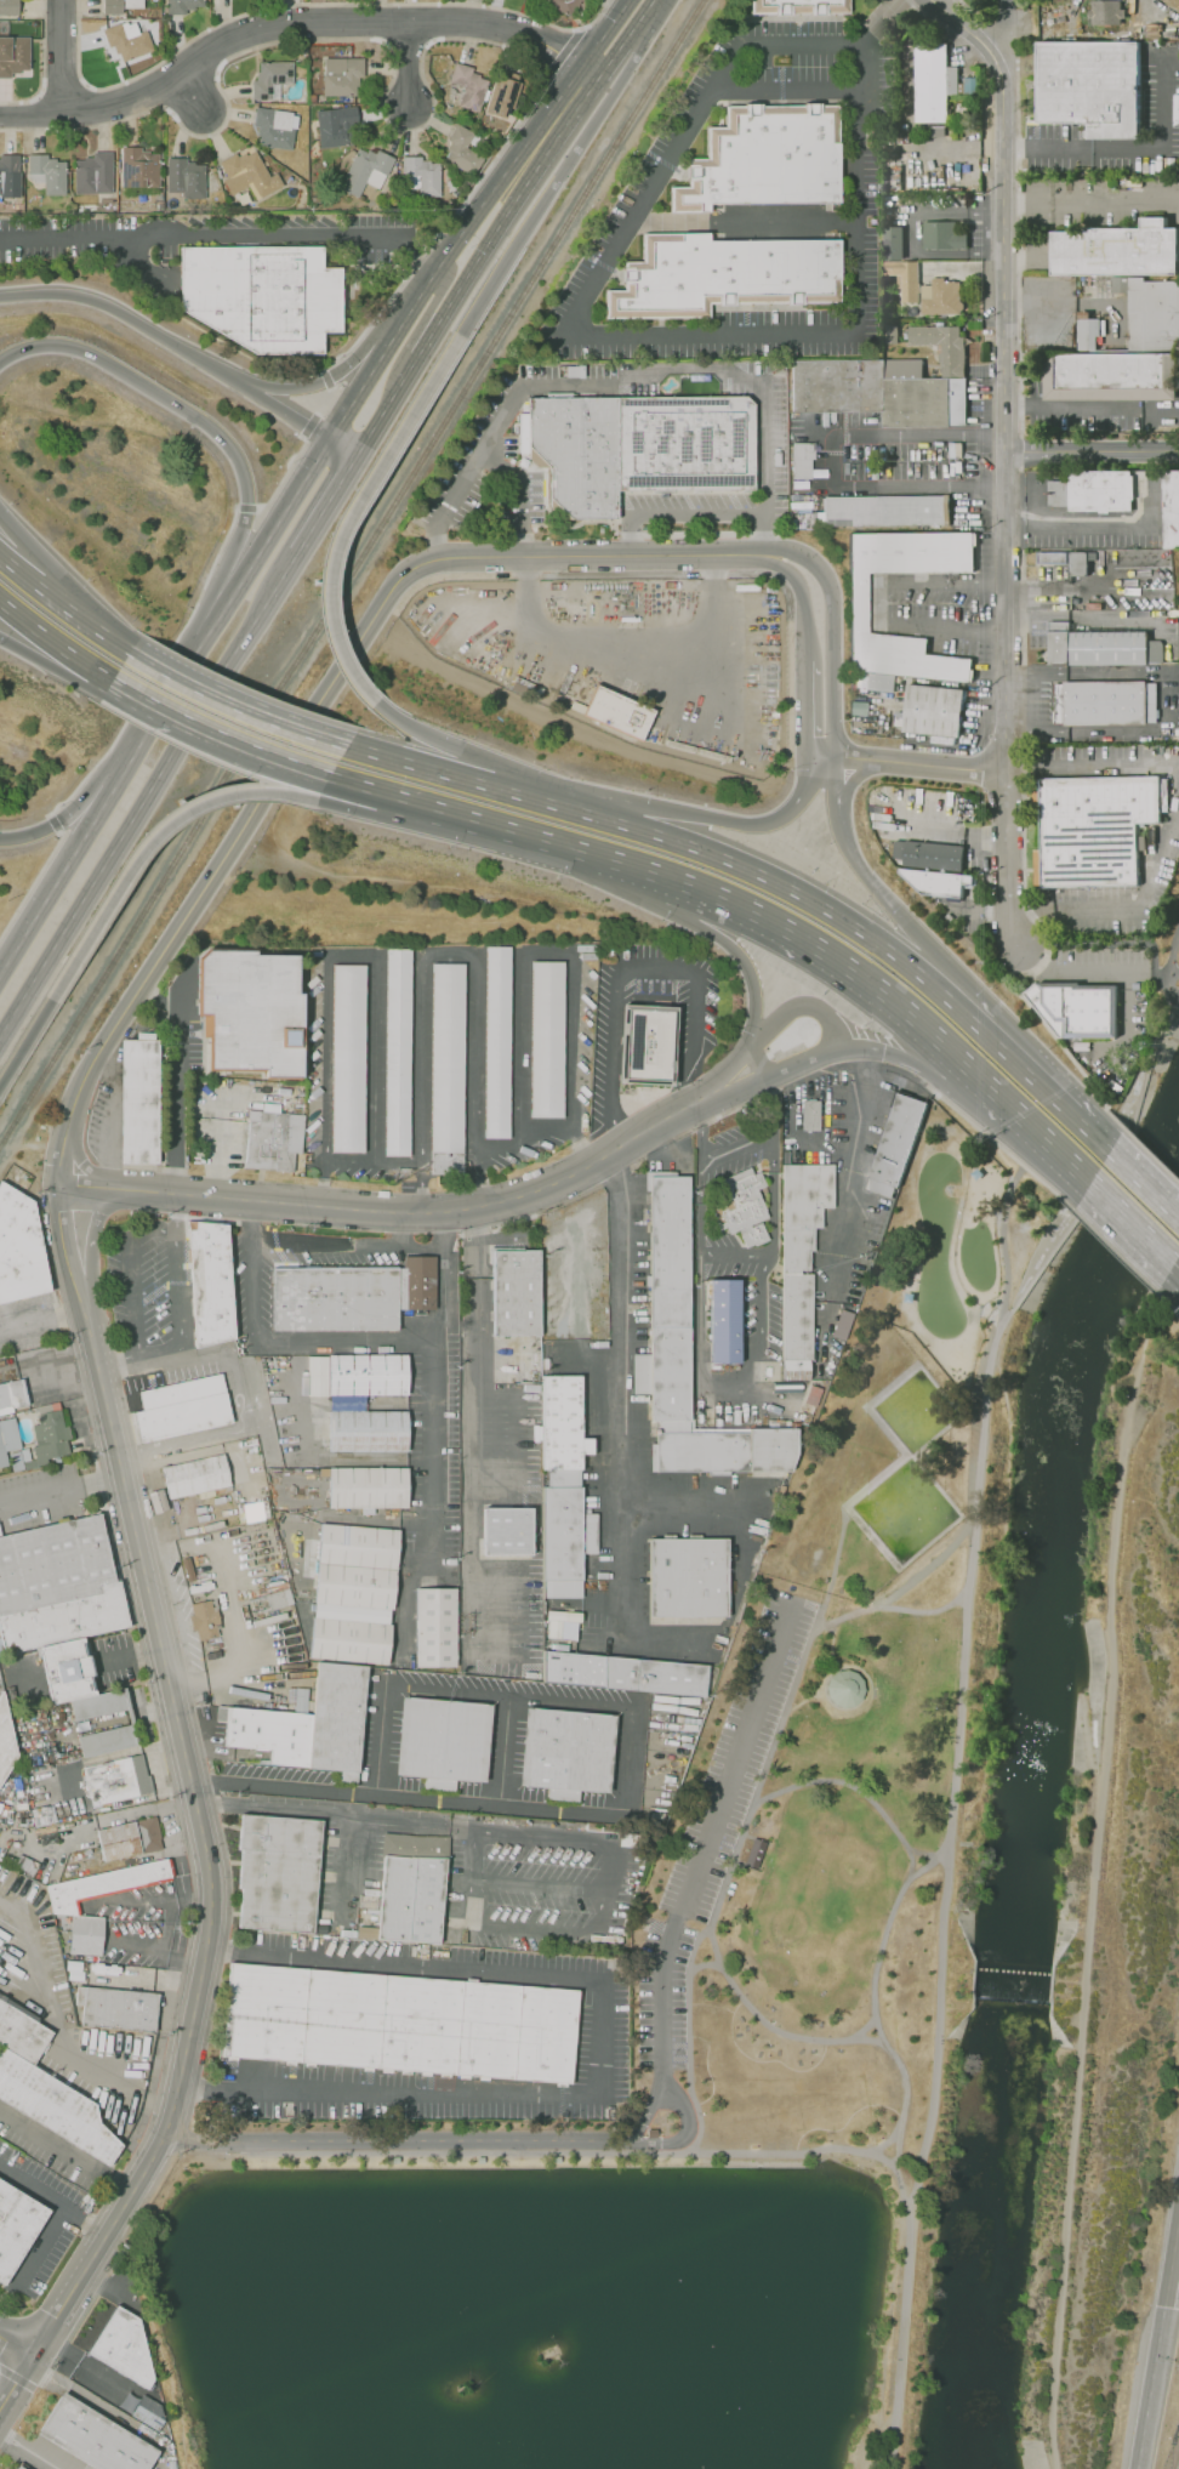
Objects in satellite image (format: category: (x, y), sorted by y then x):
building: (119, 6)
building: (181, 6)
building: (566, 6)
building: (10, 7)
building: (804, 7)
road: (942, 10)
building: (1104, 12)
road: (642, 13)
road: (970, 13)
road: (596, 16)
road: (284, 23)
road: (878, 24)
road: (604, 33)
building: (127, 38)
road: (615, 52)
road: (559, 53)
building: (12, 55)
road: (63, 58)
road: (409, 68)
road: (589, 72)
building: (342, 74)
building: (272, 78)
building: (936, 84)
building: (1088, 84)
building: (468, 86)
road: (788, 92)
road: (196, 96)
building: (502, 96)
road: (911, 120)
building: (277, 126)
building: (338, 130)
road: (1127, 148)
building: (463, 150)
building: (769, 160)
building: (138, 169)
building: (366, 171)
building: (49, 172)
building: (95, 173)
building: (423, 175)
building: (8, 177)
building: (186, 177)
building: (250, 177)
road: (554, 183)
road: (517, 201)
road: (1093, 203)
road: (747, 222)
road: (439, 232)
building: (949, 238)
building: (899, 244)
road: (222, 245)
road: (450, 248)
building: (1118, 252)
building: (729, 277)
building: (909, 279)
road: (438, 292)
building: (263, 296)
building: (945, 300)
road: (127, 318)
building: (1087, 334)
road: (623, 335)
road: (426, 340)
building: (940, 346)
building: (1124, 353)
road: (325, 379)
road: (611, 379)
road: (320, 381)
road: (1007, 382)
building: (873, 393)
road: (324, 400)
road: (387, 404)
road: (1070, 406)
road: (286, 411)
road: (209, 425)
road: (308, 425)
road: (343, 446)
building: (637, 448)
road: (1093, 453)
building: (801, 460)
road: (828, 462)
road: (284, 474)
road: (526, 493)
building: (1095, 493)
road: (327, 504)
road: (245, 507)
building: (884, 511)
road: (351, 512)
road: (699, 513)
building: (1168, 517)
road: (1090, 527)
road: (16, 541)
road: (582, 556)
building: (1050, 557)
road: (8, 562)
railway: (340, 562)
building: (1080, 562)
railway: (346, 568)
railway: (351, 574)
road: (28, 578)
road: (801, 592)
road: (234, 593)
road: (1075, 593)
building: (856, 603)
road: (878, 603)
road: (84, 619)
road: (831, 621)
road: (628, 638)
road: (53, 642)
building: (1103, 653)
road: (53, 669)
road: (158, 671)
road: (142, 698)
building: (1104, 700)
road: (234, 705)
road: (803, 706)
building: (930, 711)
building: (621, 713)
road: (432, 736)
road: (249, 749)
road: (901, 761)
road: (411, 763)
road: (1089, 766)
road: (369, 787)
road: (148, 792)
road: (539, 800)
road: (76, 809)
road: (363, 810)
road: (725, 821)
road: (52, 824)
road: (503, 829)
building: (1092, 829)
building: (1154, 840)
road: (147, 843)
building: (930, 855)
road: (68, 859)
road: (1003, 864)
road: (633, 865)
road: (866, 874)
road: (677, 880)
road: (774, 880)
road: (32, 883)
building: (934, 884)
road: (1129, 894)
road: (1109, 943)
road: (1173, 948)
road: (844, 962)
road: (636, 967)
road: (1009, 967)
road: (747, 971)
road: (1174, 971)
road: (1173, 994)
building: (1075, 1012)
building: (245, 1014)
road: (830, 1018)
road: (973, 1024)
road: (25, 1041)
building: (549, 1041)
building: (500, 1042)
building: (642, 1047)
building: (400, 1051)
road: (1063, 1051)
building: (349, 1058)
road: (906, 1062)
building: (451, 1071)
road: (173, 1080)
building: (142, 1103)
road: (769, 1103)
road: (1063, 1109)
building: (809, 1115)
road: (973, 1123)
road: (1033, 1128)
road: (700, 1130)
road: (109, 1136)
road: (519, 1138)
building: (274, 1142)
road: (29, 1143)
road: (735, 1143)
road: (576, 1145)
building: (895, 1147)
road: (1150, 1155)
road: (370, 1160)
road: (85, 1166)
road: (480, 1179)
road: (320, 1183)
road: (1047, 1185)
road: (1143, 1185)
road: (418, 1188)
road: (847, 1202)
building: (739, 1208)
road: (389, 1213)
road: (251, 1219)
road: (1129, 1223)
road: (401, 1229)
road: (326, 1241)
road: (423, 1245)
park: (938, 1246)
building: (21, 1247)
road: (1113, 1250)
road: (1002, 1251)
park: (976, 1255)
road: (735, 1256)
road: (90, 1259)
building: (798, 1263)
road: (1175, 1267)
road: (178, 1272)
road: (133, 1273)
building: (215, 1282)
road: (252, 1282)
building: (422, 1284)
building: (511, 1293)
building: (338, 1298)
road: (1167, 1302)
building: (665, 1303)
road: (39, 1318)
building: (722, 1324)
road: (626, 1335)
road: (409, 1346)
road: (161, 1354)
road: (116, 1365)
road: (62, 1367)
building: (370, 1376)
road: (741, 1381)
building: (15, 1394)
building: (184, 1409)
road: (475, 1413)
building: (559, 1424)
road: (109, 1429)
road: (239, 1429)
building: (372, 1434)
building: (50, 1438)
building: (8, 1440)
building: (307, 1457)
road: (433, 1457)
building: (199, 1477)
road: (59, 1487)
building: (371, 1490)
road: (684, 1518)
building: (506, 1530)
building: (565, 1541)
road: (927, 1568)
building: (690, 1575)
road: (625, 1577)
building: (59, 1586)
building: (355, 1593)
building: (203, 1618)
building: (440, 1623)
road: (129, 1656)
building: (70, 1673)
building: (627, 1674)
road: (828, 1676)
building: (843, 1688)
road: (959, 1697)
building: (298, 1700)
building: (313, 1723)
building: (133, 1724)
building: (5, 1740)
road: (1087, 1740)
building: (445, 1742)
road: (505, 1748)
building: (569, 1753)
road: (101, 1757)
building: (119, 1779)
road: (628, 1799)
road: (750, 1811)
road: (335, 1814)
road: (113, 1815)
parking lot: (717, 1820)
road: (713, 1826)
building: (132, 1838)
road: (589, 1842)
building: (753, 1851)
road: (922, 1853)
road: (911, 1859)
road: (929, 1860)
building: (278, 1873)
road: (472, 1873)
road: (1094, 1881)
building: (106, 1883)
road: (540, 1884)
building: (412, 1888)
road: (150, 1899)
road: (531, 1927)
building: (89, 1934)
road: (154, 1950)
road: (704, 1965)
road: (139, 1979)
park: (798, 1996)
building: (119, 2008)
road: (757, 2014)
road: (59, 2023)
building: (401, 2025)
road: (867, 2040)
road: (599, 2047)
building: (52, 2087)
road: (661, 2088)
road: (676, 2089)
road: (906, 2089)
road: (687, 2112)
road: (398, 2141)
road: (887, 2141)
toll booth: (653, 2144)
road: (65, 2150)
road: (597, 2152)
road: (163, 2195)
road: (52, 2201)
building: (18, 2229)
road: (40, 2253)
road: (1171, 2258)
traffic signals: (1163, 2306)
road: (15, 2345)
building: (127, 2350)
road: (166, 2362)
road: (86, 2367)
road: (13, 2379)
road: (17, 2379)
road: (1150, 2388)
building: (139, 2408)
building: (97, 2439)
road: (27, 2452)
building: (15, 2468)
building: (25, 2468)

